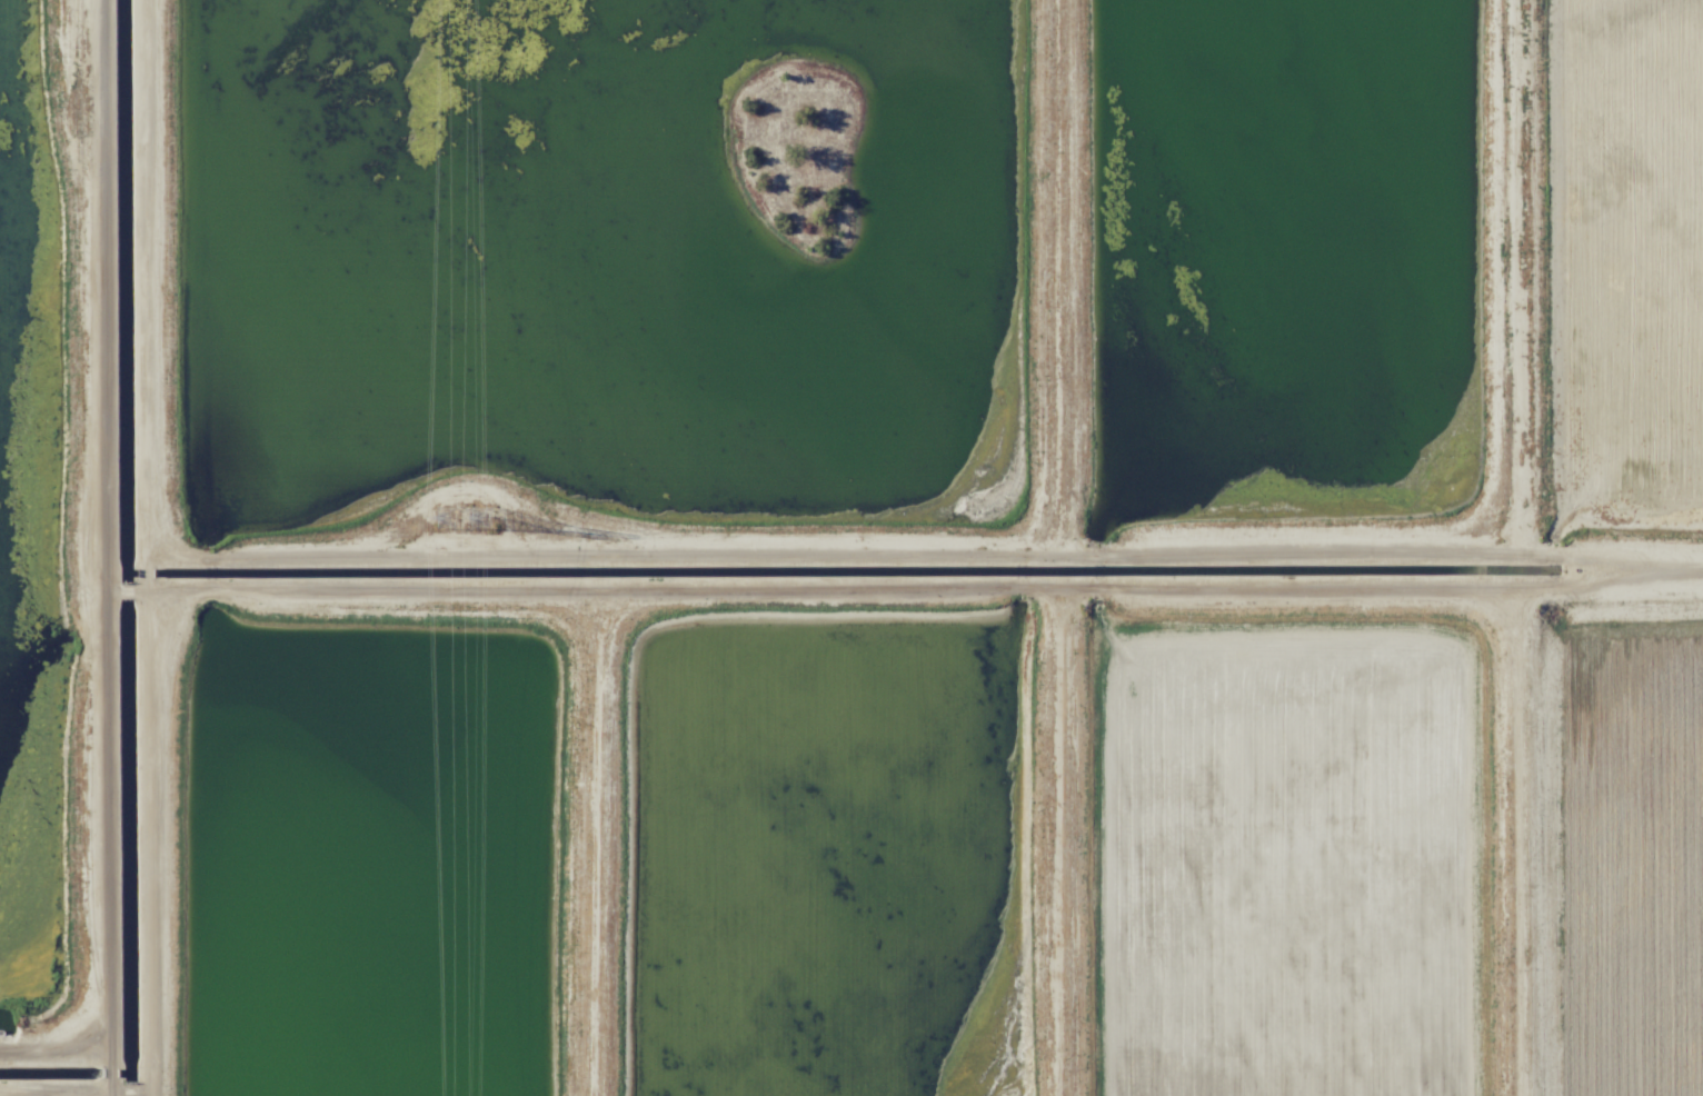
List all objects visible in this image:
wastewater plant: (1630, 260)
wastewater plant: (1292, 261)
wastewater plant: (602, 265)
road: (1521, 277)
wastewater plant: (23, 509)
power tower: (481, 516)
power tower: (441, 517)
road: (91, 548)
road: (148, 548)
wastewater plant: (852, 548)
road: (599, 554)
road: (1594, 558)
road: (1655, 558)
road: (598, 586)
road: (121, 587)
road: (1525, 839)
road: (595, 840)
wastewater plant: (1632, 851)
wastewater plant: (1291, 853)
wastewater plant: (823, 855)
wastewater plant: (370, 864)
road: (52, 1042)
road: (53, 1088)
road: (132, 1088)

